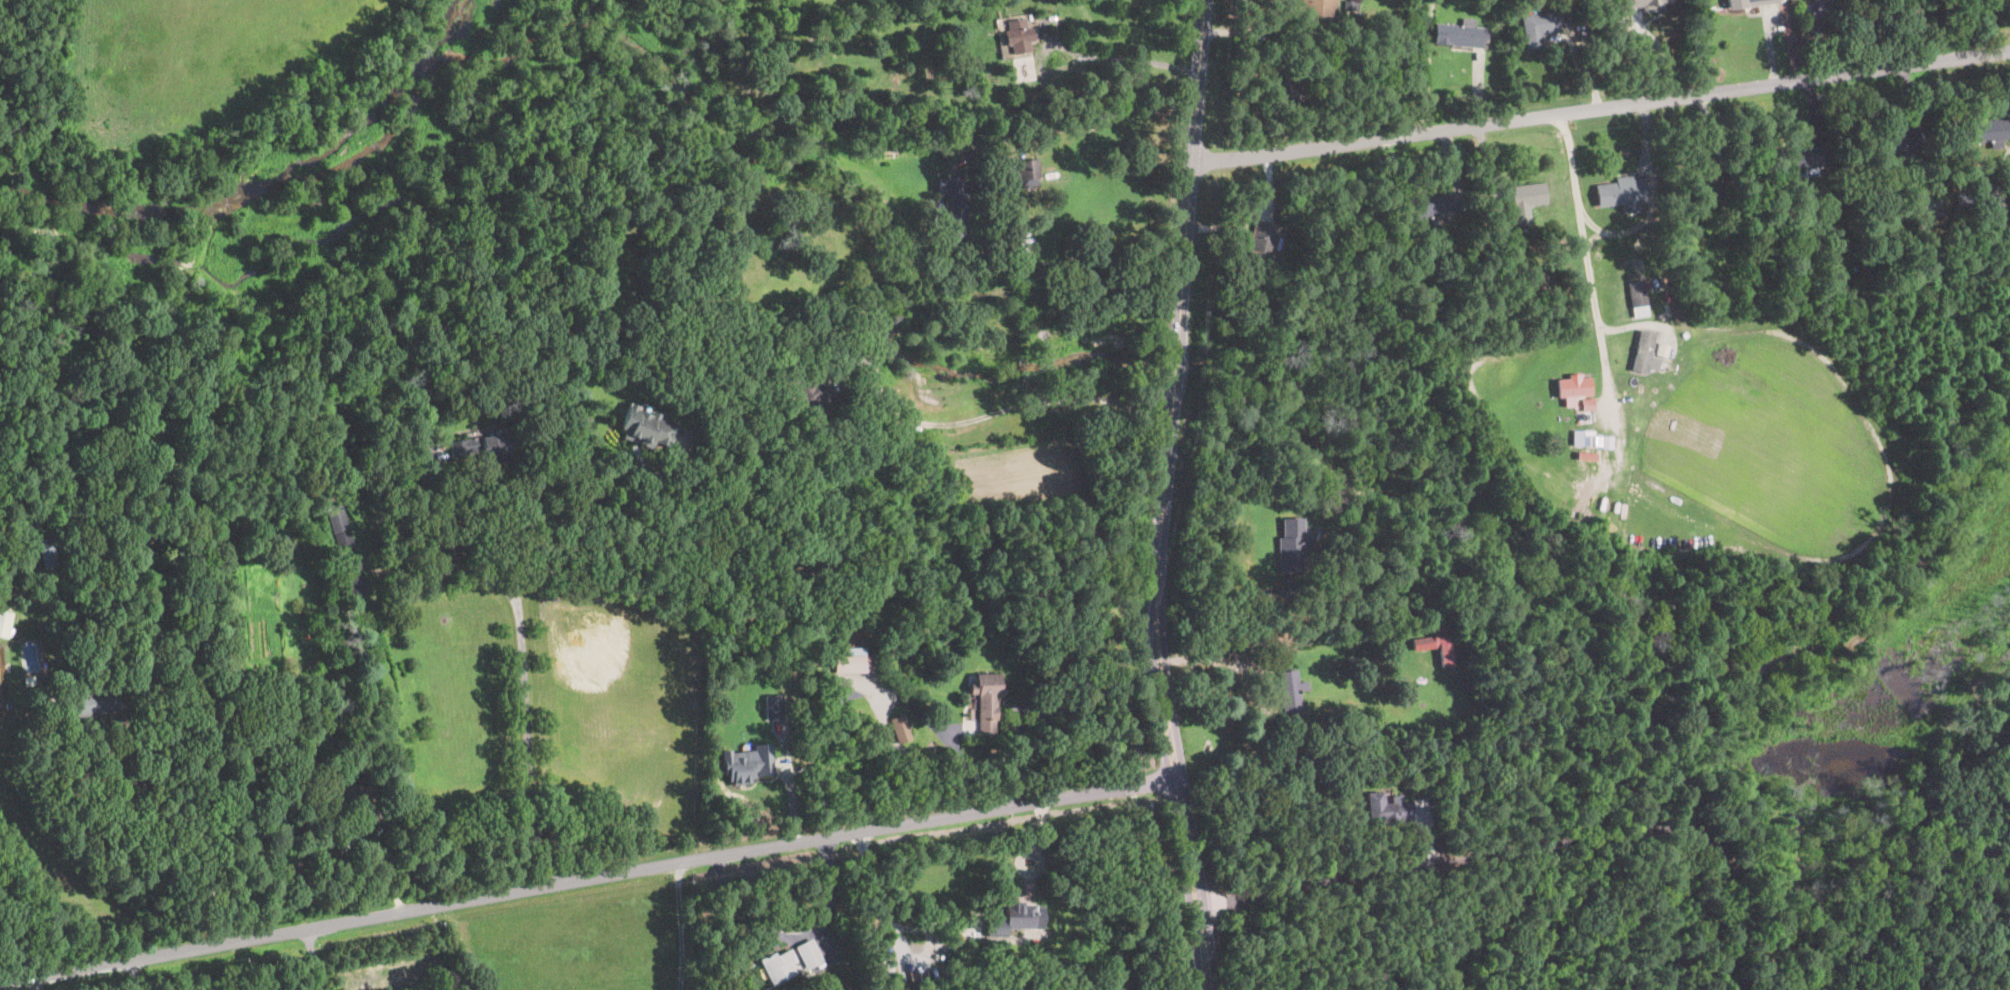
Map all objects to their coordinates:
building: (1640, 2)
building: (1749, 3)
building: (1351, 6)
building: (1311, 8)
building: (1001, 23)
building: (1352, 27)
building: (1539, 28)
road: (1962, 31)
building: (1462, 34)
building: (1019, 36)
road: (1660, 51)
road: (1126, 59)
road: (1581, 64)
road: (1427, 66)
building: (1284, 86)
road: (1601, 107)
road: (1090, 117)
building: (1988, 133)
building: (1896, 144)
building: (1803, 160)
building: (1028, 170)
building: (1714, 189)
building: (1622, 194)
building: (1969, 200)
building: (1527, 201)
building: (954, 202)
building: (1998, 202)
building: (1434, 206)
building: (1935, 209)
building: (1750, 211)
road: (1252, 215)
building: (779, 222)
road: (1584, 236)
building: (1262, 245)
building: (1541, 282)
building: (1638, 294)
building: (1654, 297)
building: (1430, 322)
building: (734, 329)
building: (785, 330)
building: (1643, 350)
building: (1575, 386)
building: (831, 389)
building: (813, 398)
building: (1588, 403)
building: (1584, 417)
road: (961, 422)
building: (647, 428)
building: (0, 434)
building: (85, 437)
building: (932, 441)
building: (1588, 441)
building: (483, 448)
road: (1165, 496)
road: (538, 520)
road: (1234, 522)
road: (644, 523)
building: (29, 534)
road: (459, 541)
building: (1292, 546)
building: (345, 548)
building: (50, 552)
road: (425, 576)
road: (589, 578)
building: (0, 623)
building: (5, 623)
building: (1437, 644)
building: (852, 664)
building: (804, 681)
building: (1292, 693)
building: (987, 701)
building: (124, 702)
building: (91, 703)
building: (773, 706)
building: (902, 729)
building: (1333, 731)
road: (525, 741)
building: (749, 763)
road: (791, 789)
building: (359, 807)
building: (1389, 808)
building: (395, 820)
road: (169, 843)
road: (1538, 846)
road: (588, 878)
road: (883, 913)
building: (1016, 919)
road: (679, 926)
road: (794, 936)
building: (809, 955)
road: (314, 958)
building: (778, 967)
road: (135, 975)
road: (37, 982)
building: (873, 987)

